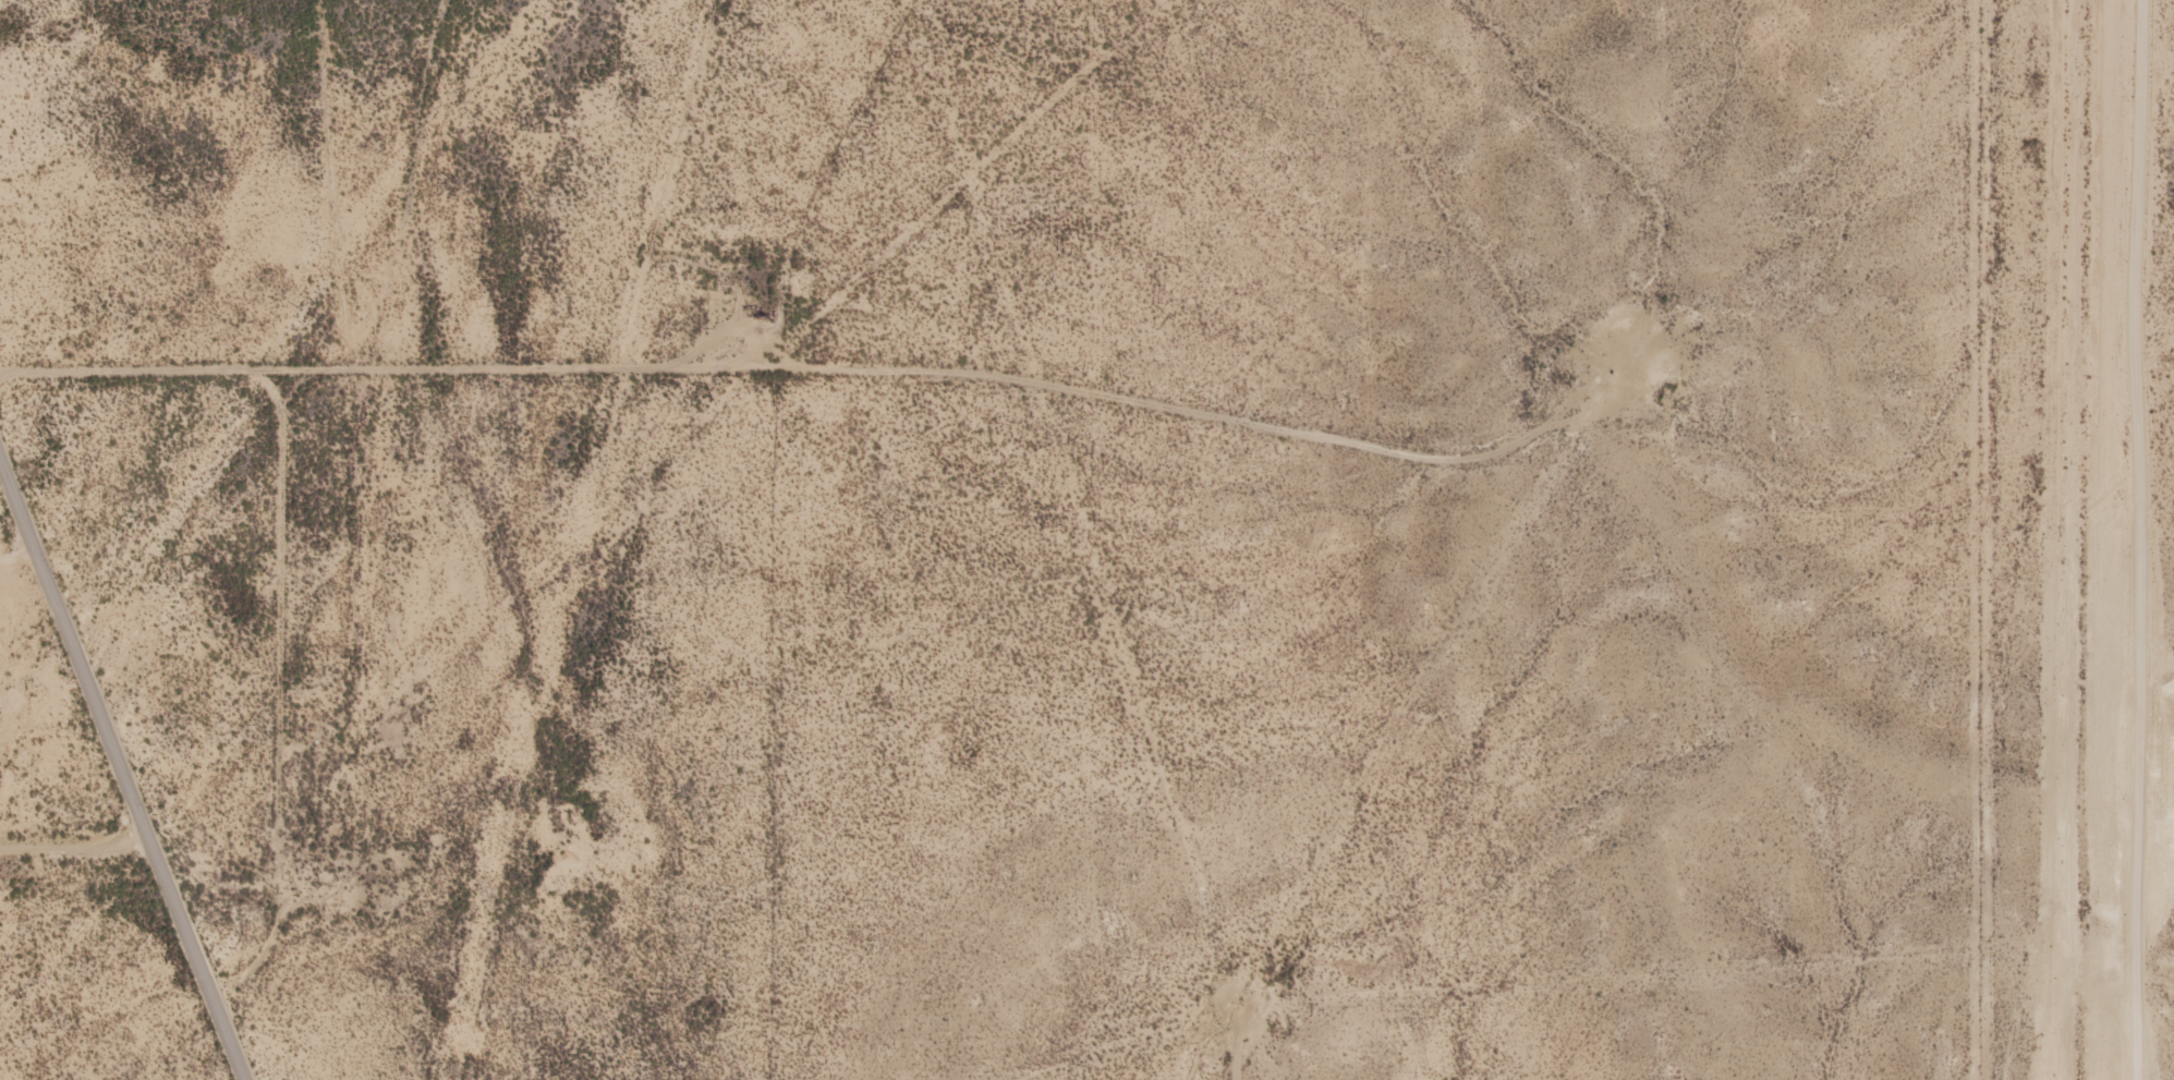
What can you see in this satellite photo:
road: (788, 357)
road: (1957, 539)
road: (89, 826)

